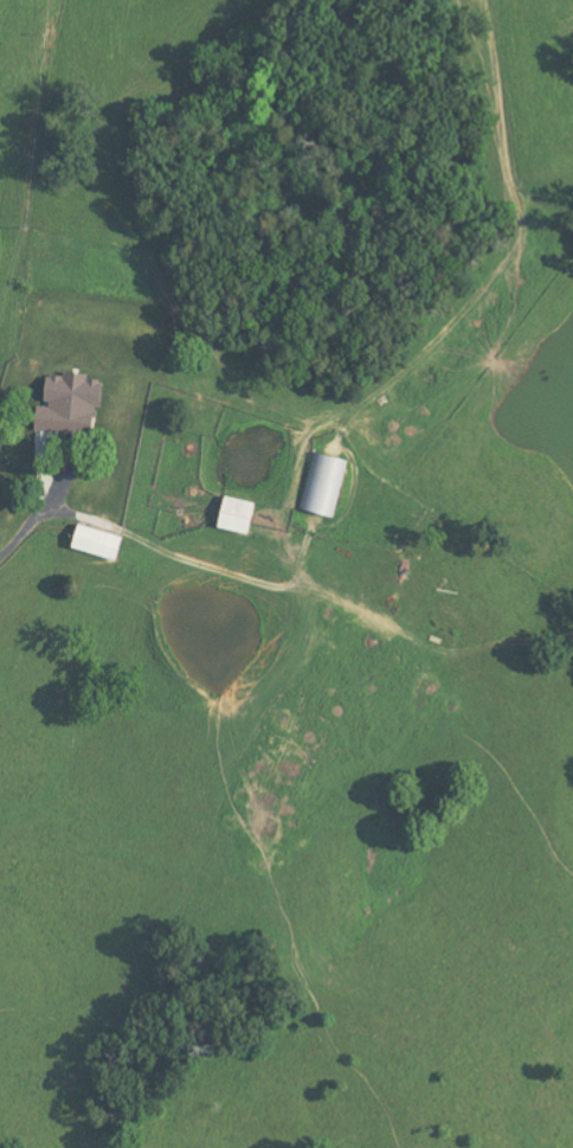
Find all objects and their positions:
building: (81, 387)
building: (327, 481)
road: (32, 509)
building: (243, 514)
building: (102, 541)

